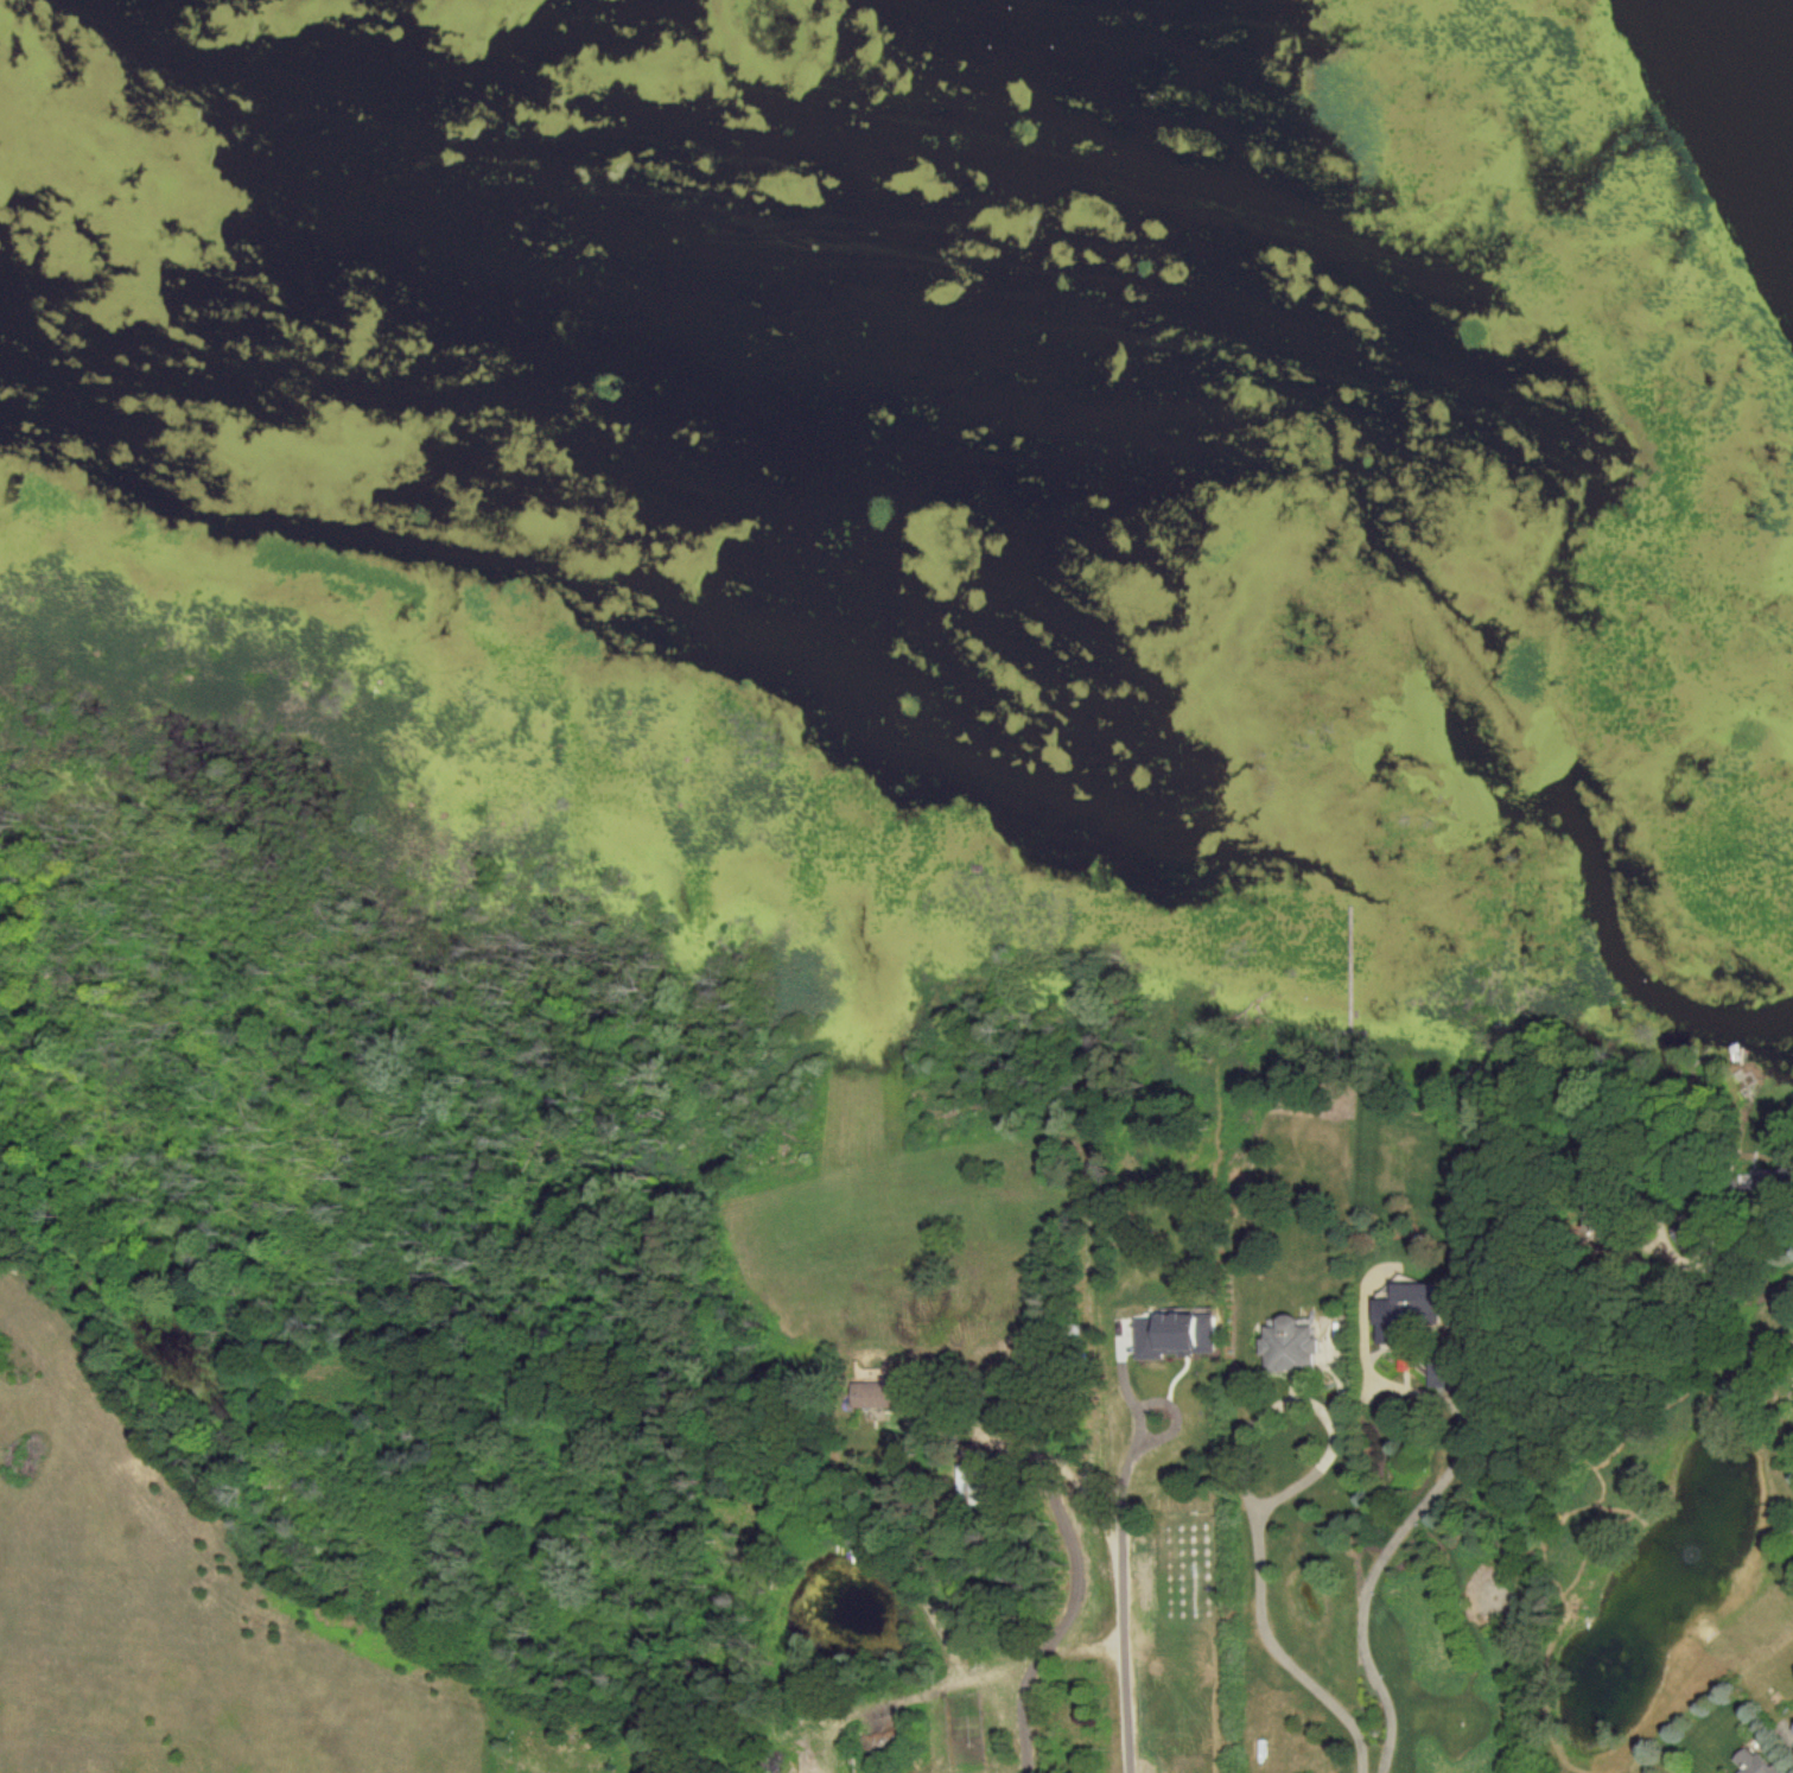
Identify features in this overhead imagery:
building: (1410, 1309)
building: (1175, 1335)
building: (1286, 1346)
building: (1404, 1361)
building: (1441, 1371)
building: (873, 1394)
building: (972, 1481)
road: (1403, 1529)
road: (1260, 1553)
road: (1118, 1619)
road: (953, 1682)
road: (1023, 1717)
building: (1792, 1730)
building: (1753, 1762)

